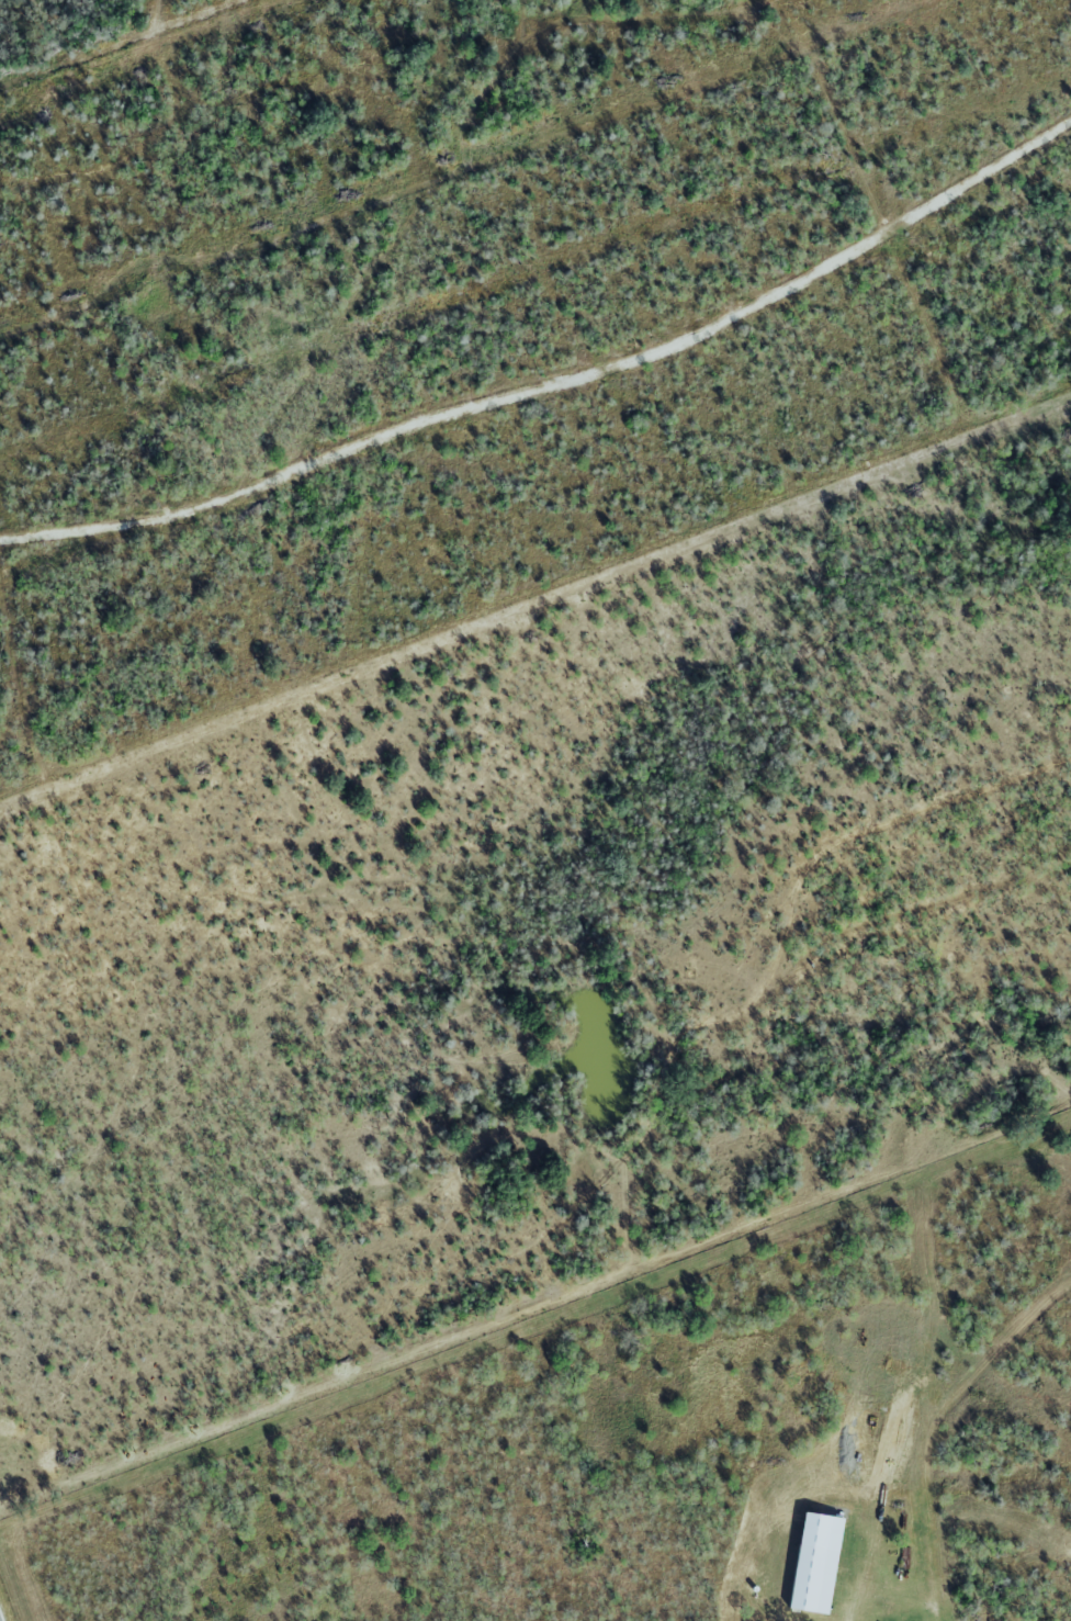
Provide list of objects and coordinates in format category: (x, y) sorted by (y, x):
road: (556, 385)
building: (813, 1579)

